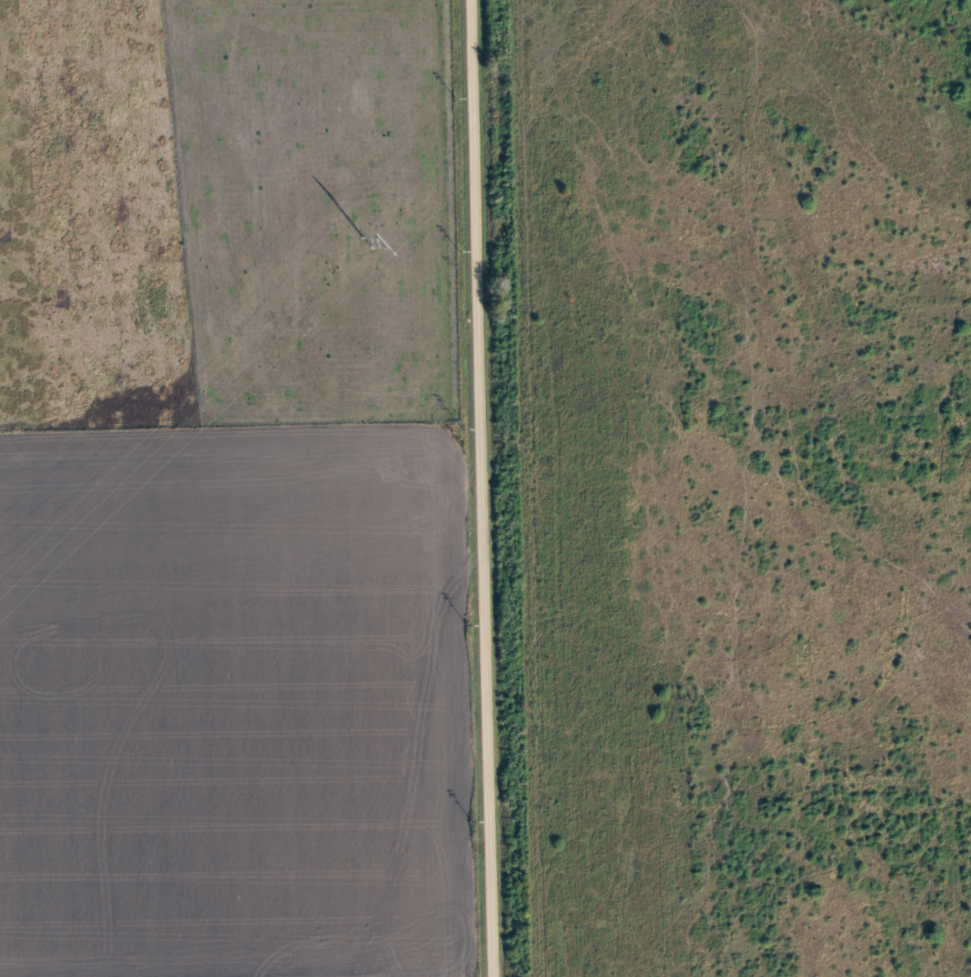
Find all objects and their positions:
power tower: (365, 241)
road: (483, 488)

